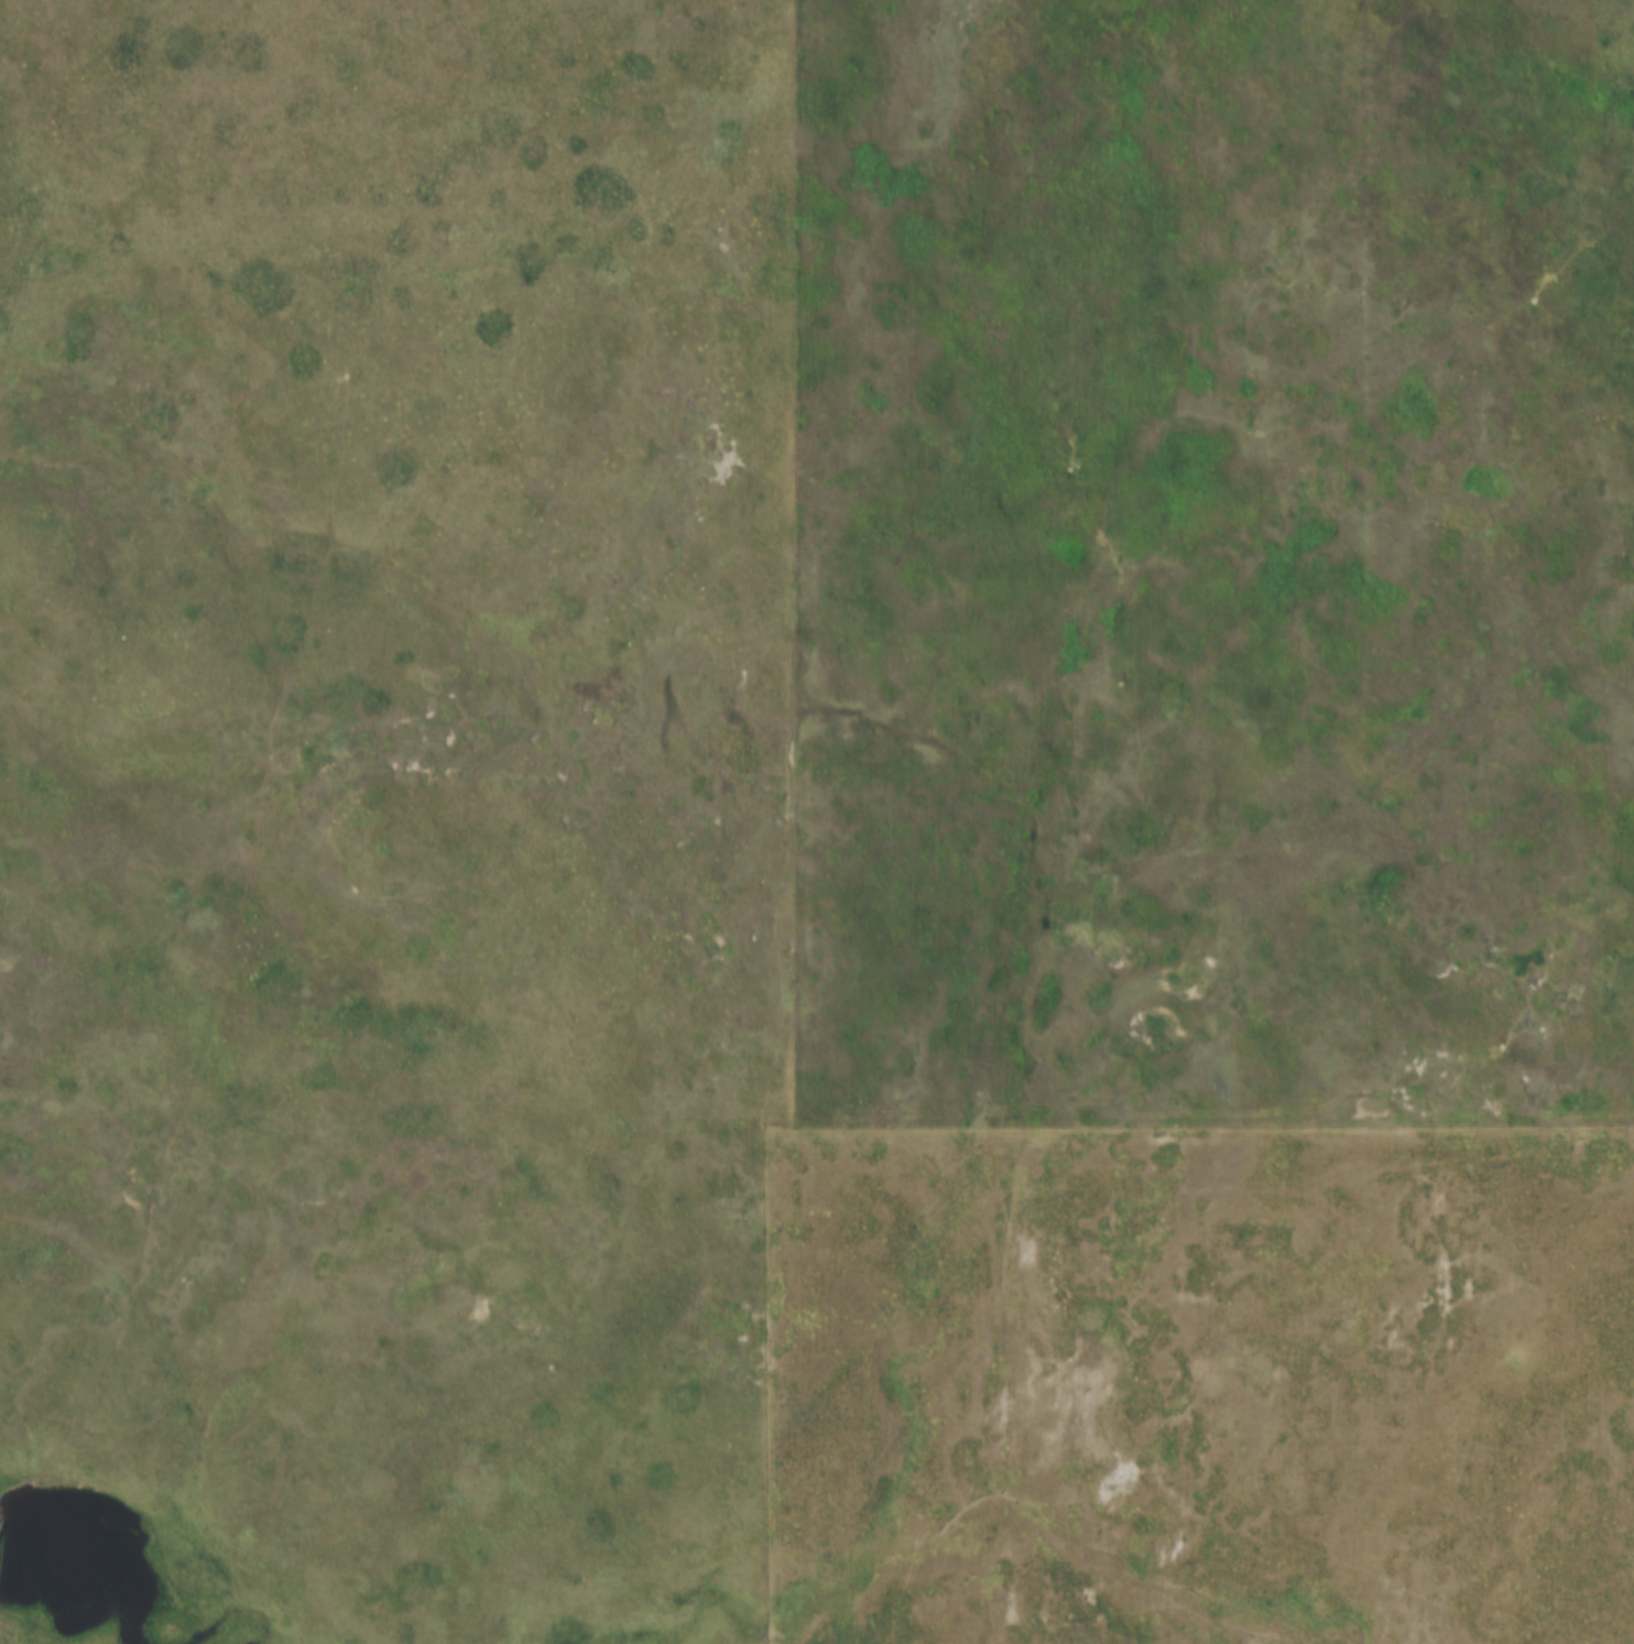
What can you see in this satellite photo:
dam: (1, 1488)

